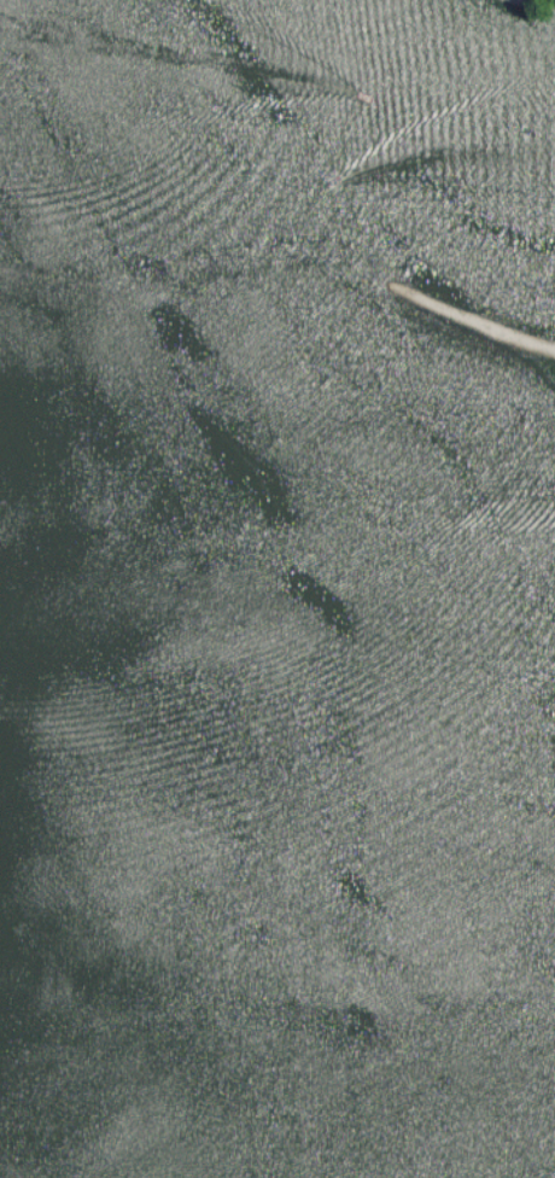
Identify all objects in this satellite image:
park: (462, 180)

